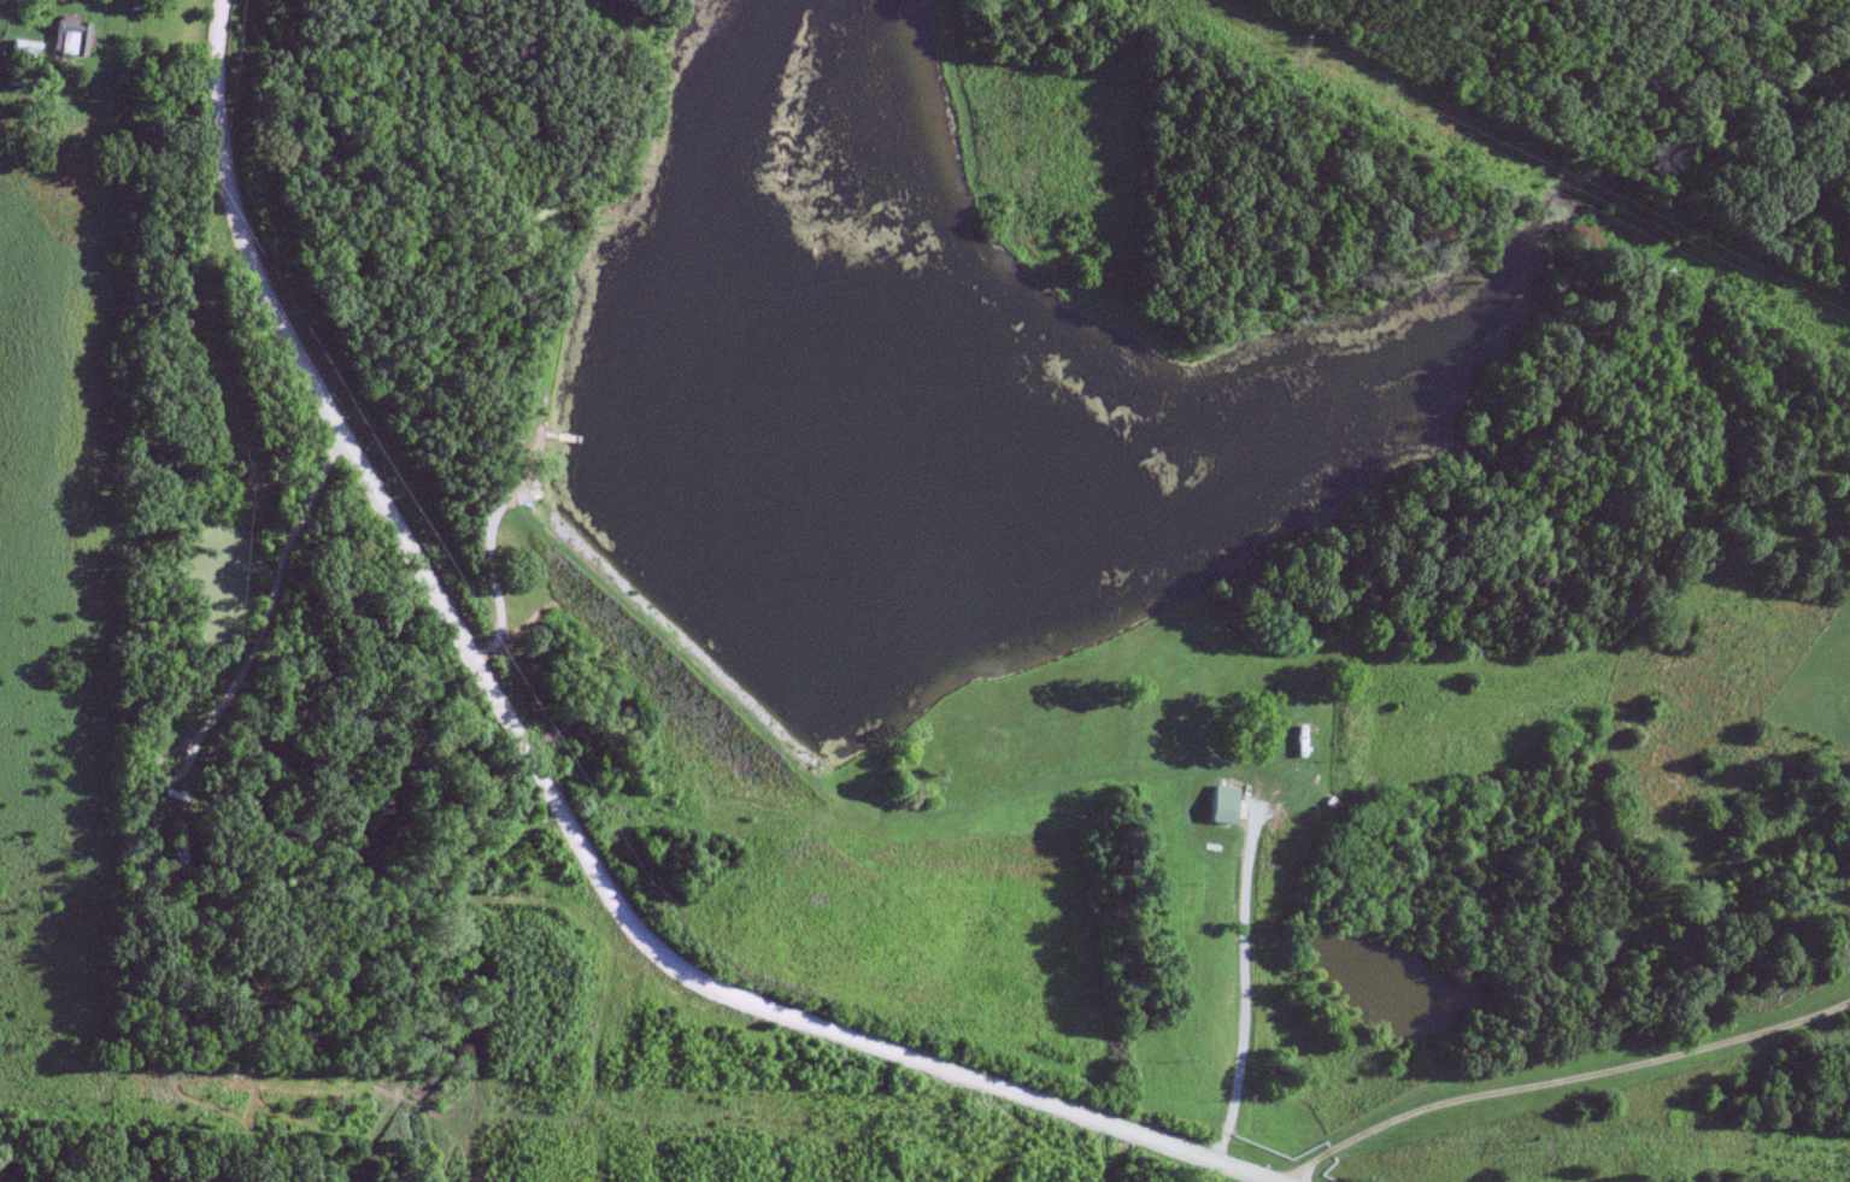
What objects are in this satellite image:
building: (70, 39)
road: (269, 593)
building: (1302, 739)
road: (541, 772)
building: (1223, 805)
building: (181, 847)
road: (1243, 1005)
road: (1563, 1081)
power tower: (327, 1100)
power tower: (1534, 1141)

